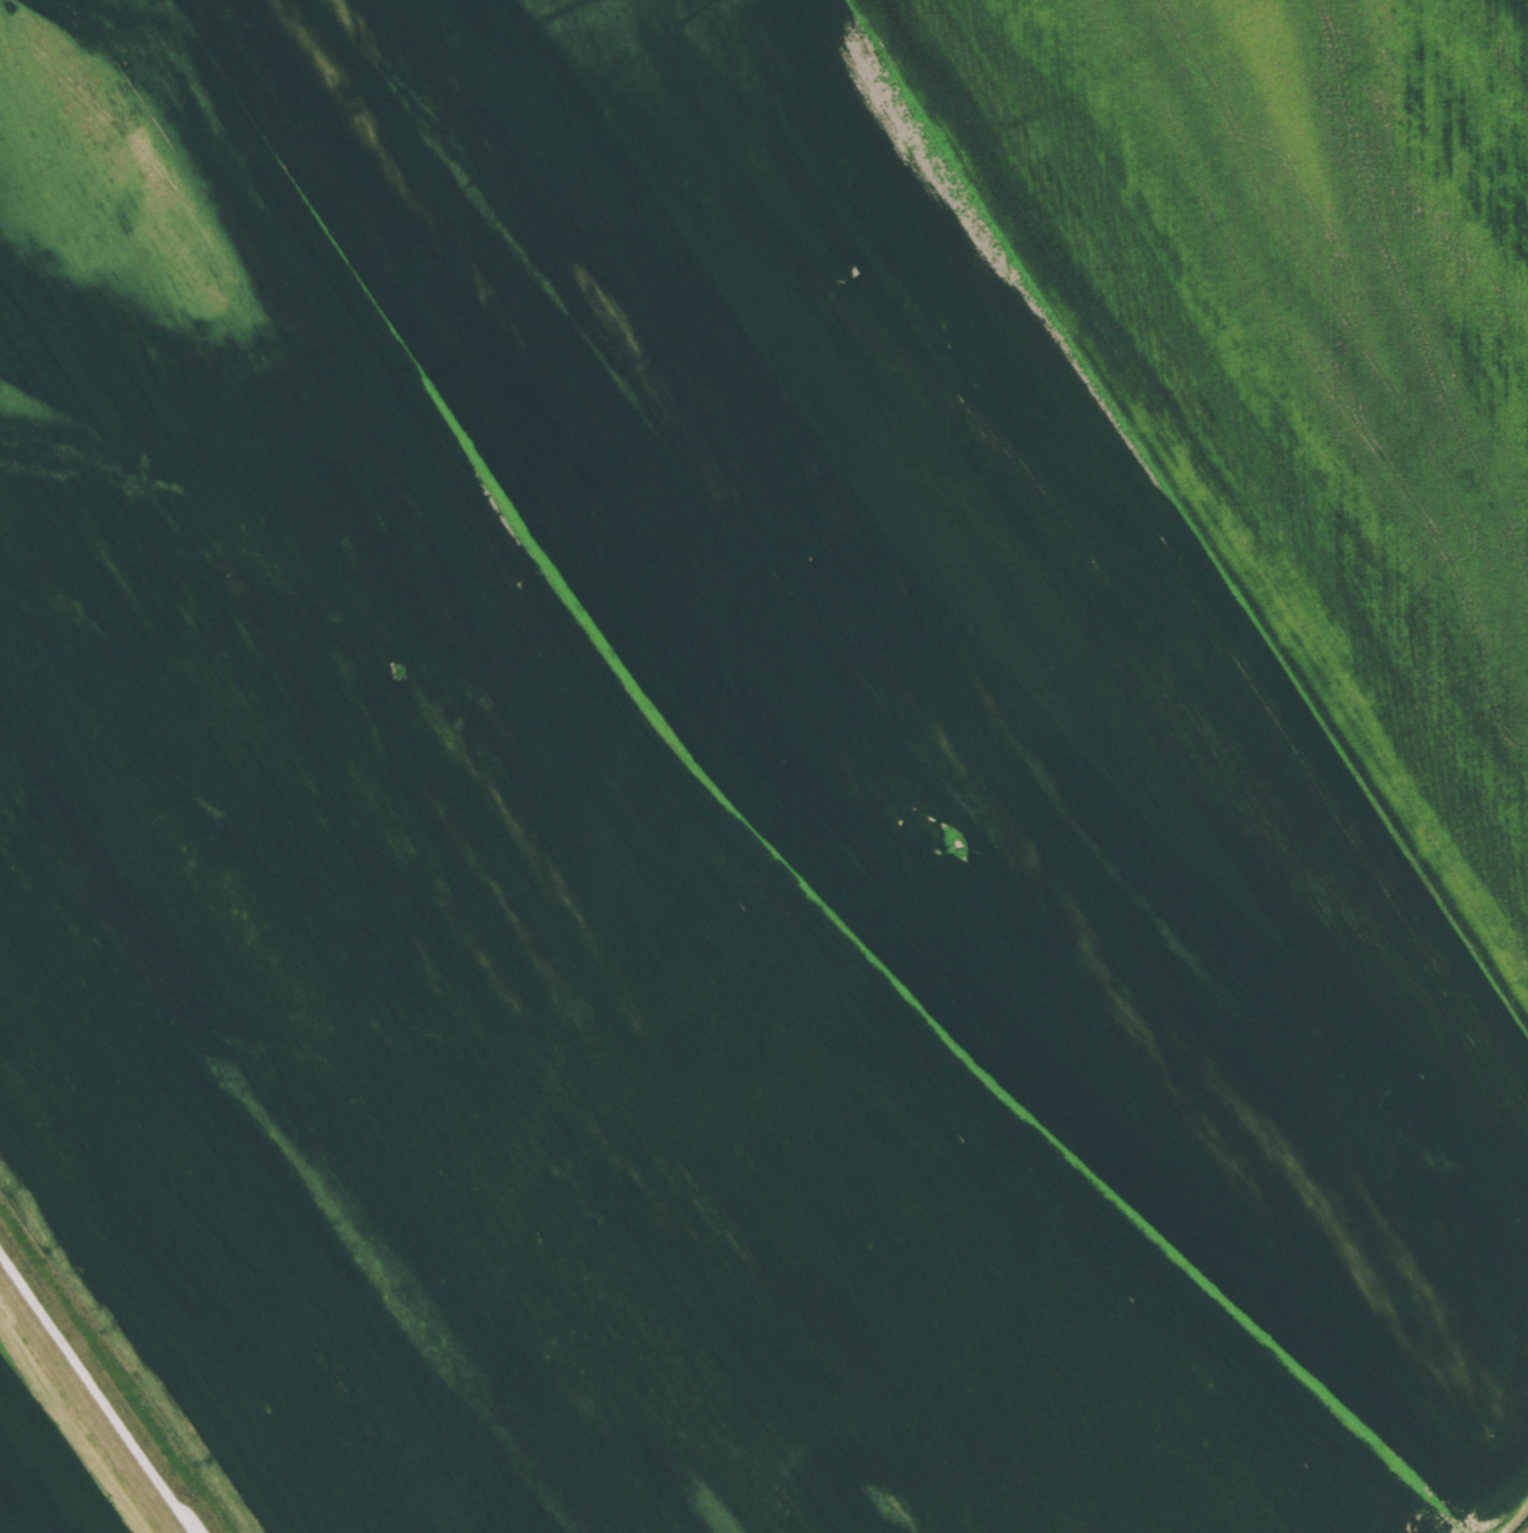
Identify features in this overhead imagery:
road: (98, 1391)
crop: (44, 1471)

